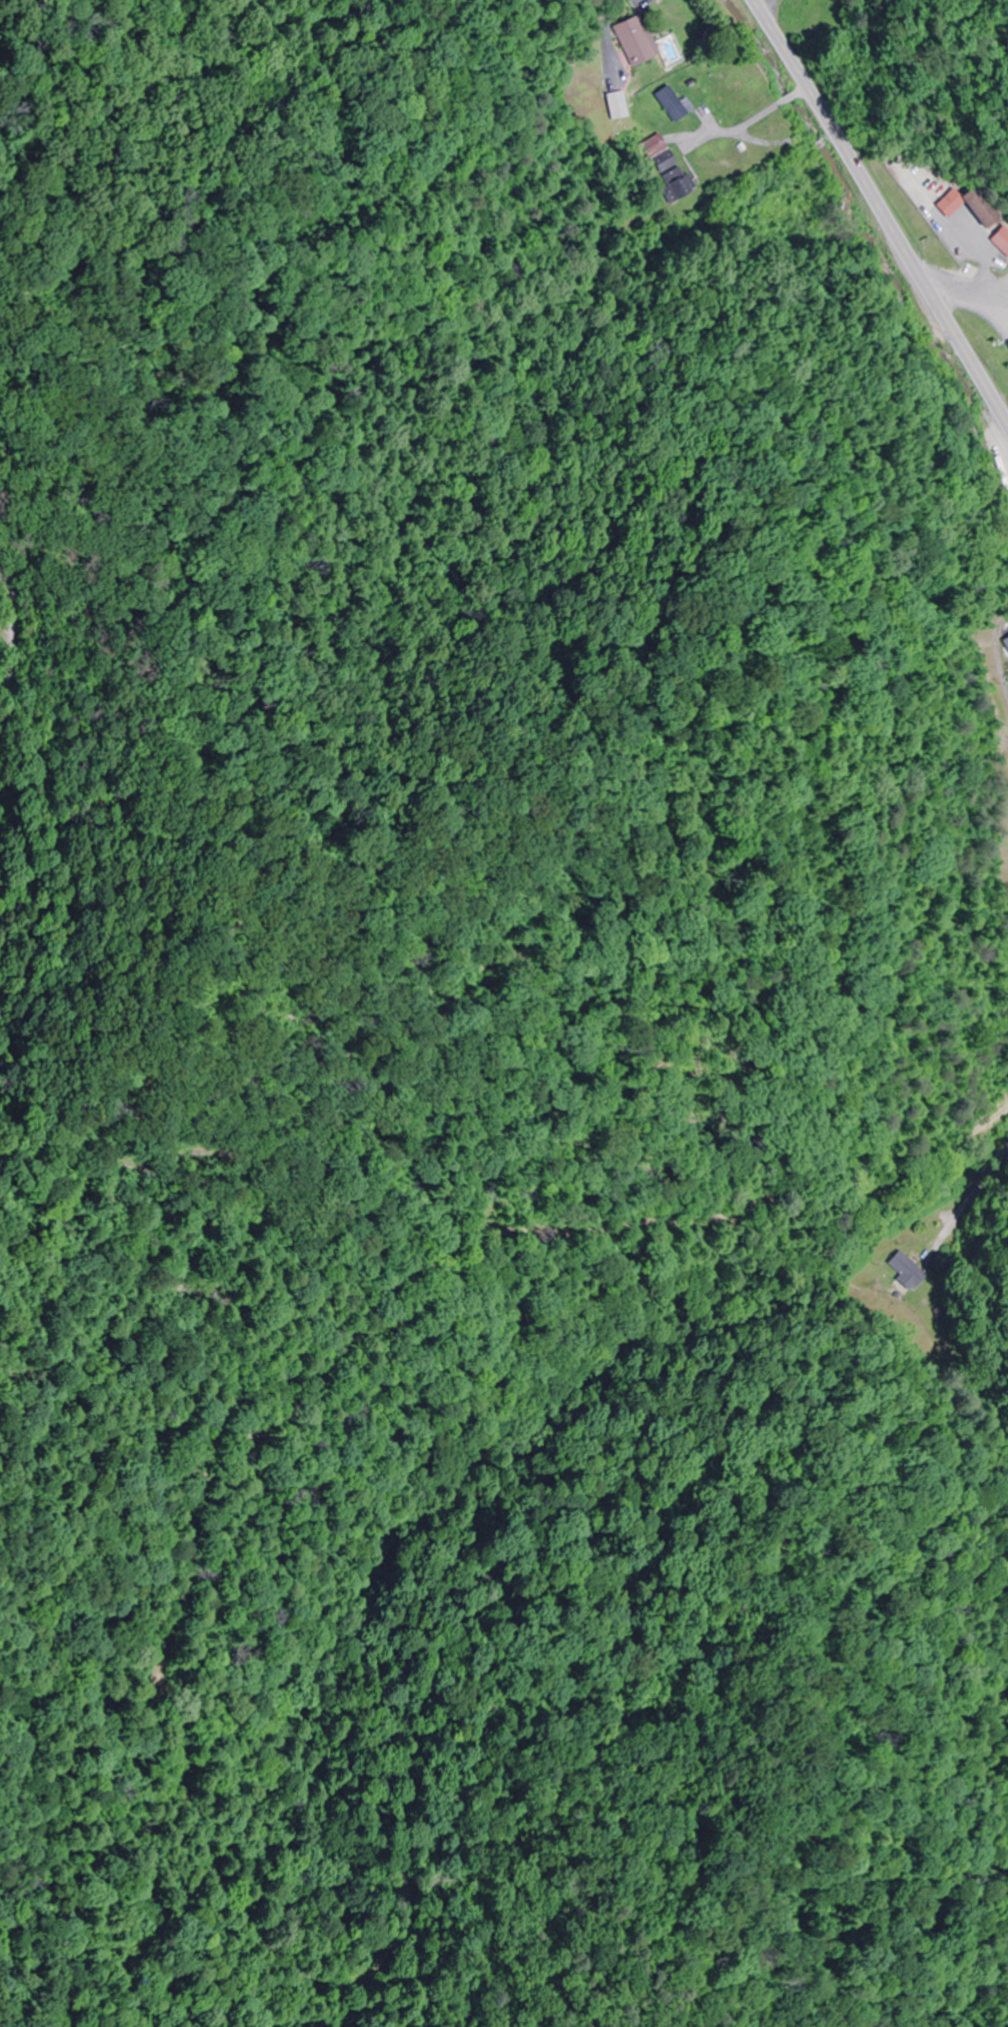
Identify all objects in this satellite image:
building: (627, 40)
building: (670, 103)
building: (614, 106)
building: (655, 153)
building: (672, 186)
building: (967, 206)
road: (880, 215)
building: (1000, 241)
building: (1006, 345)
building: (1006, 642)
road: (7, 658)
road: (978, 1192)
building: (905, 1270)

